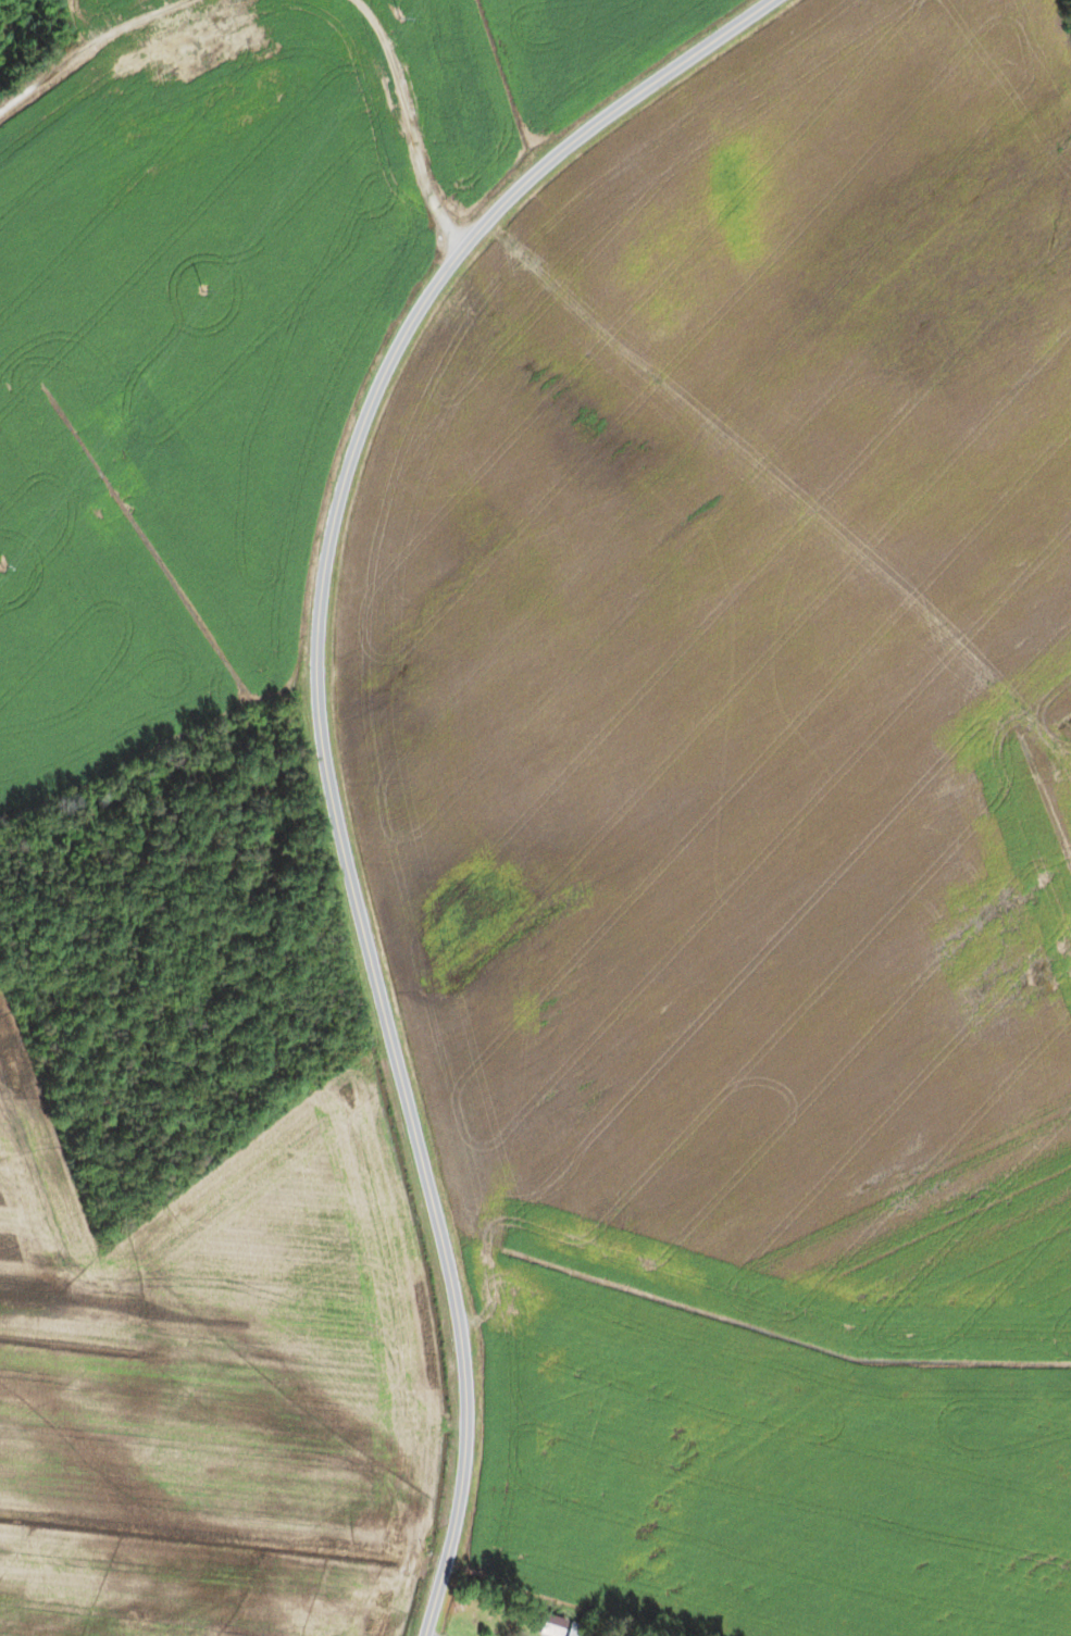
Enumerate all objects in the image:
road: (88, 49)
road: (610, 111)
road: (410, 121)
road: (362, 927)
building: (552, 1625)
building: (576, 1629)

